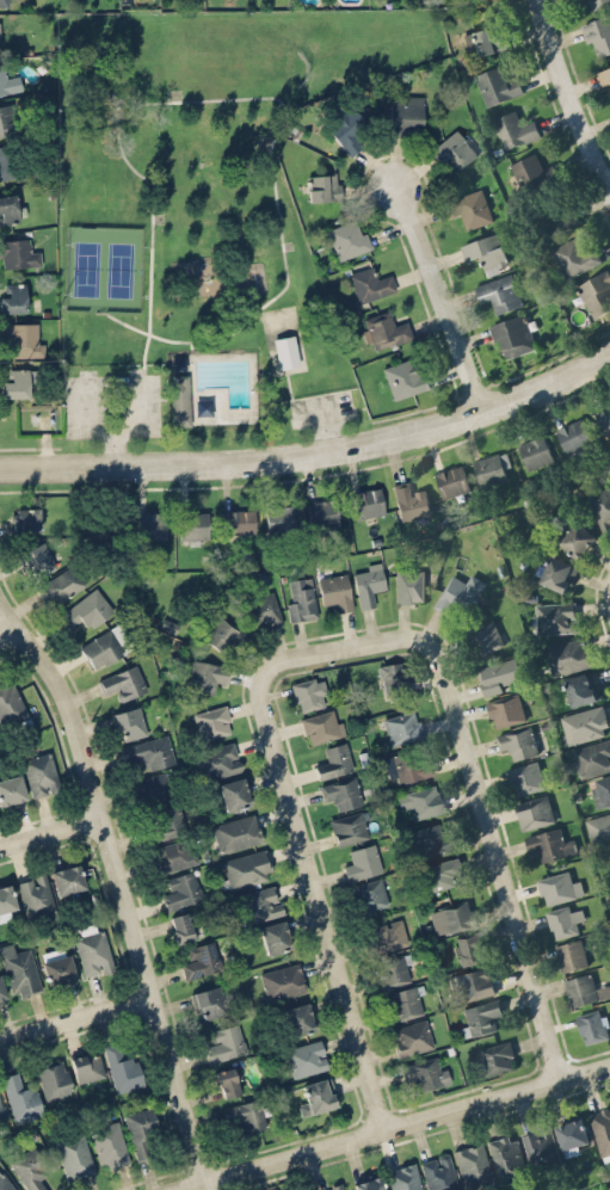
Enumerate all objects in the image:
building: (4, 2)
building: (599, 2)
building: (597, 35)
building: (0, 38)
building: (487, 38)
building: (604, 75)
building: (8, 81)
building: (497, 84)
road: (572, 87)
building: (406, 115)
building: (6, 119)
building: (513, 128)
building: (345, 129)
building: (454, 150)
building: (4, 162)
building: (531, 172)
building: (322, 186)
road: (276, 205)
building: (469, 206)
building: (8, 208)
building: (559, 215)
road: (150, 233)
building: (347, 238)
building: (487, 252)
building: (17, 253)
building: (574, 254)
road: (160, 266)
park: (100, 270)
building: (370, 283)
building: (499, 291)
building: (596, 291)
building: (13, 297)
road: (435, 297)
road: (249, 309)
building: (383, 329)
building: (512, 334)
building: (21, 339)
park: (283, 341)
building: (286, 351)
building: (403, 377)
building: (16, 383)
road: (288, 388)
building: (180, 399)
parking lot: (136, 401)
parking lot: (316, 408)
road: (316, 409)
building: (603, 418)
road: (322, 428)
road: (115, 430)
building: (573, 433)
road: (110, 446)
building: (535, 450)
road: (313, 451)
building: (491, 468)
building: (451, 480)
building: (411, 500)
building: (368, 501)
building: (600, 505)
building: (324, 513)
building: (25, 519)
building: (284, 519)
building: (238, 520)
building: (150, 524)
building: (193, 524)
building: (111, 528)
building: (577, 537)
building: (37, 559)
building: (557, 572)
building: (368, 582)
building: (61, 584)
building: (408, 586)
building: (334, 588)
building: (458, 593)
building: (301, 598)
building: (86, 610)
building: (263, 610)
building: (555, 616)
road: (13, 634)
building: (224, 635)
building: (485, 636)
building: (106, 645)
building: (567, 655)
building: (205, 674)
building: (499, 674)
building: (392, 677)
building: (123, 682)
building: (581, 686)
building: (306, 693)
building: (10, 703)
building: (505, 709)
building: (212, 721)
building: (128, 722)
building: (584, 722)
building: (321, 726)
building: (401, 726)
building: (518, 741)
building: (149, 751)
building: (592, 756)
building: (217, 760)
building: (334, 760)
building: (407, 765)
building: (41, 773)
building: (524, 776)
building: (11, 789)
building: (152, 789)
building: (235, 793)
building: (343, 793)
building: (420, 801)
building: (534, 810)
building: (164, 822)
building: (598, 825)
building: (351, 826)
road: (54, 827)
building: (236, 832)
road: (495, 836)
road: (306, 837)
building: (429, 839)
building: (549, 843)
building: (175, 855)
building: (363, 862)
building: (246, 868)
building: (439, 873)
building: (67, 878)
road: (127, 880)
building: (559, 886)
building: (183, 889)
building: (369, 894)
building: (36, 895)
building: (5, 898)
building: (259, 904)
building: (456, 915)
building: (565, 919)
building: (181, 926)
building: (275, 936)
building: (386, 936)
building: (468, 948)
building: (92, 949)
building: (571, 952)
building: (201, 960)
building: (57, 966)
building: (18, 969)
building: (393, 970)
building: (282, 981)
building: (474, 982)
building: (580, 987)
building: (1, 991)
building: (209, 1001)
building: (402, 1003)
road: (79, 1015)
building: (480, 1017)
building: (297, 1018)
building: (591, 1024)
building: (411, 1036)
building: (224, 1042)
building: (497, 1056)
building: (306, 1058)
building: (87, 1066)
building: (122, 1067)
building: (426, 1072)
building: (54, 1078)
building: (227, 1080)
building: (316, 1096)
building: (20, 1097)
building: (1, 1109)
building: (248, 1114)
road: (392, 1128)
building: (140, 1129)
building: (602, 1129)
building: (572, 1132)
building: (109, 1145)
building: (540, 1148)
building: (74, 1155)
building: (506, 1157)
building: (473, 1165)
building: (30, 1169)
building: (438, 1172)
building: (403, 1177)
building: (5, 1183)
building: (369, 1183)
building: (334, 1188)

